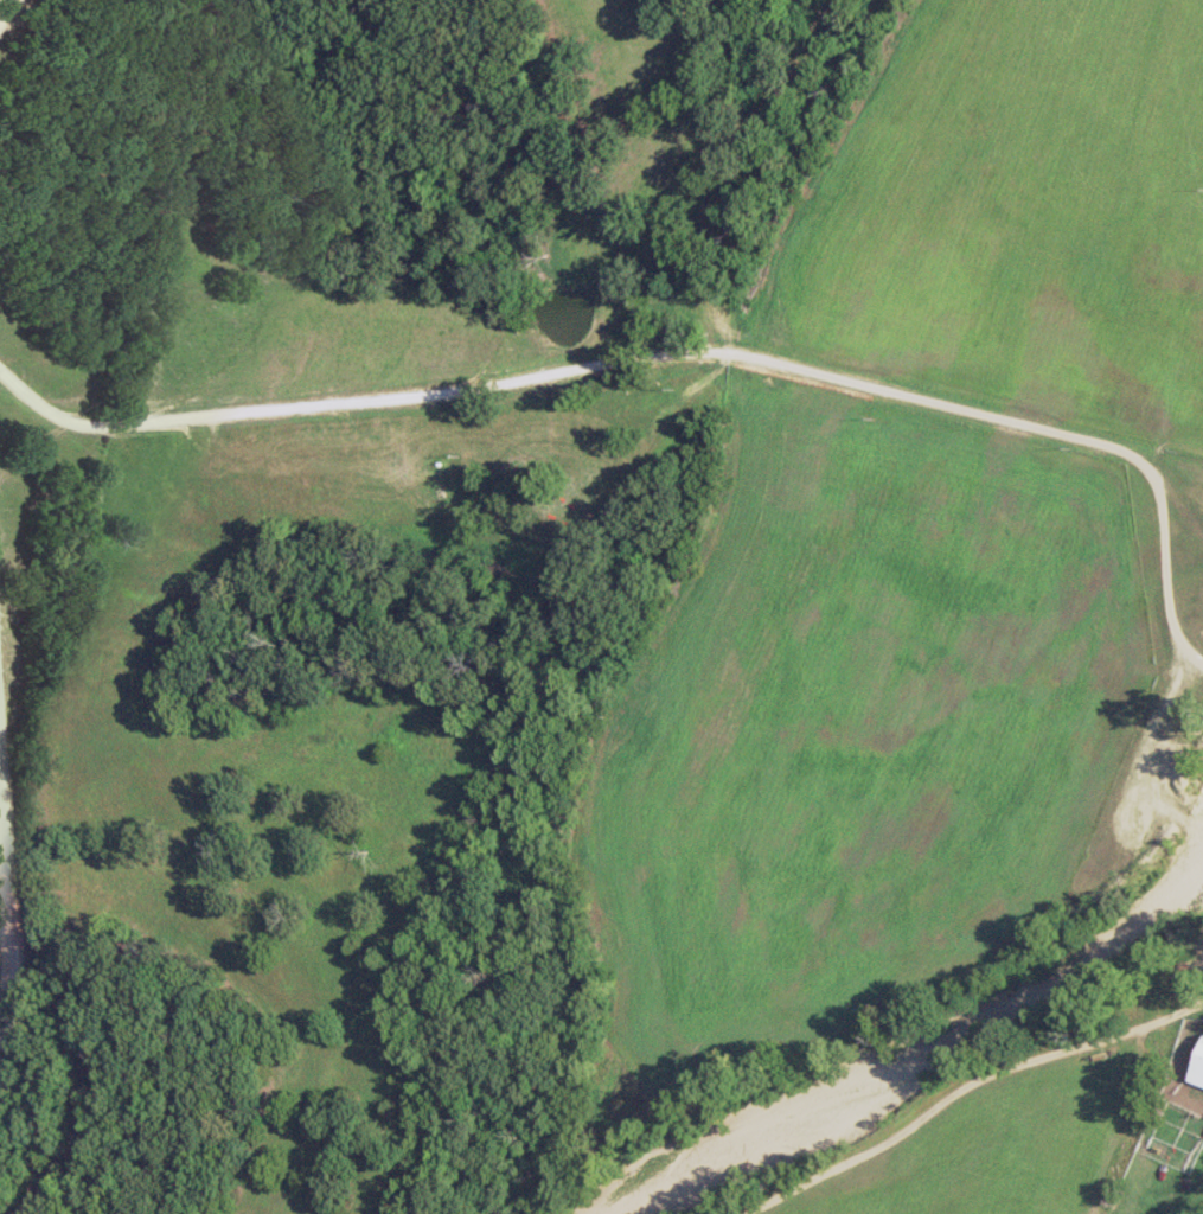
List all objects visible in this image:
road: (613, 434)
road: (30, 933)
building: (1197, 1063)

